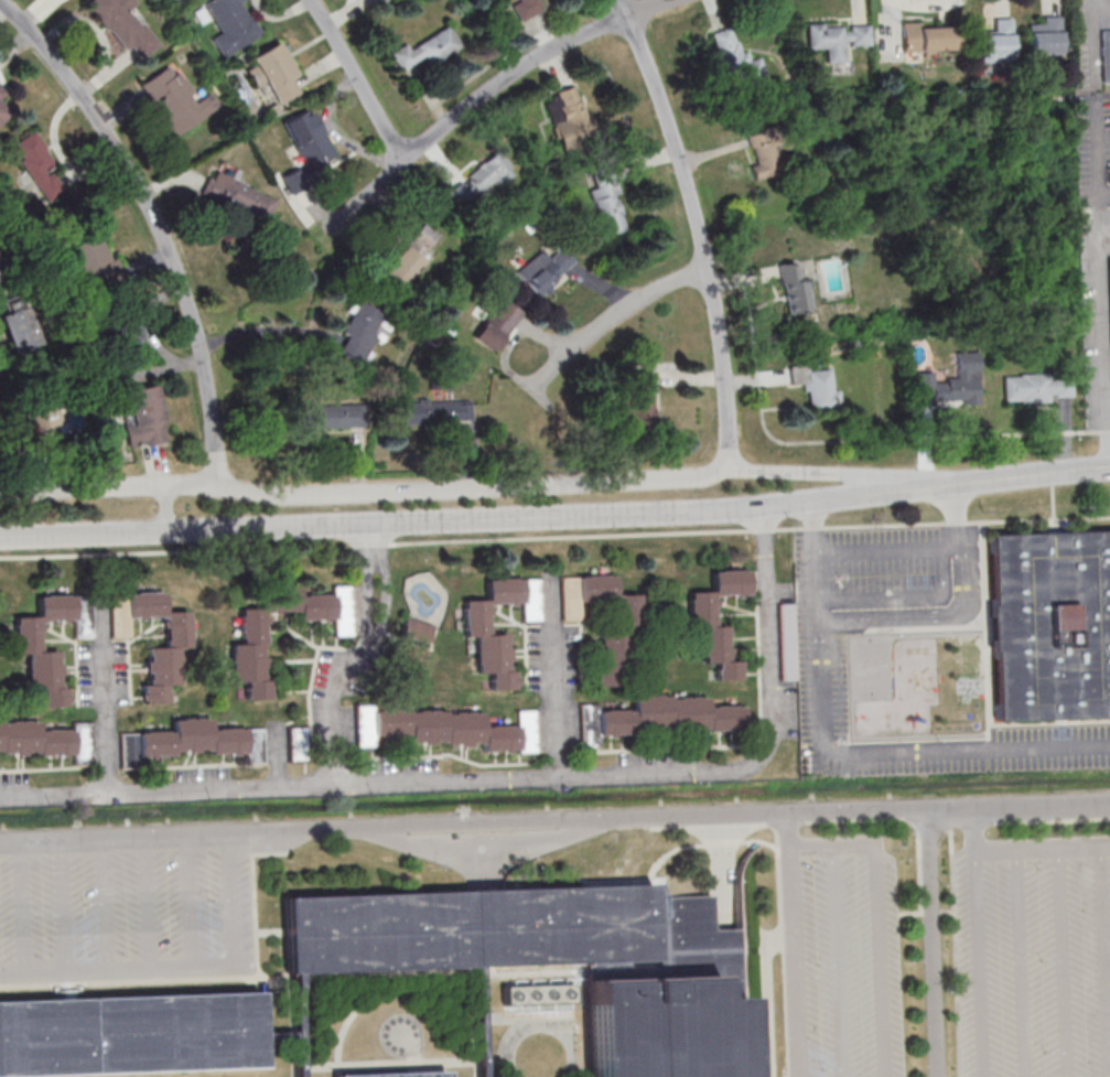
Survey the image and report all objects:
building: (499, 0)
building: (377, 1)
building: (527, 8)
building: (122, 23)
building: (230, 24)
building: (1046, 36)
road: (1092, 36)
building: (928, 37)
building: (837, 39)
building: (998, 43)
building: (424, 51)
building: (1104, 56)
building: (737, 62)
building: (274, 74)
road: (357, 79)
road: (1093, 89)
road: (488, 90)
building: (1, 93)
building: (174, 101)
building: (3, 111)
building: (568, 115)
building: (310, 141)
building: (763, 154)
road: (1098, 154)
building: (39, 165)
building: (482, 181)
building: (238, 196)
building: (608, 205)
road: (155, 224)
road: (699, 229)
building: (411, 255)
building: (95, 259)
building: (546, 269)
building: (1109, 276)
building: (794, 289)
road: (610, 320)
building: (498, 324)
building: (15, 330)
building: (360, 332)
road: (1099, 336)
building: (129, 342)
building: (952, 384)
building: (817, 386)
building: (1037, 387)
building: (637, 397)
road: (1107, 406)
building: (439, 411)
building: (333, 416)
building: (142, 417)
building: (43, 420)
road: (1082, 431)
road: (1087, 471)
road: (850, 475)
road: (110, 488)
road: (474, 491)
road: (165, 507)
road: (532, 516)
road: (1038, 519)
road: (957, 523)
road: (862, 526)
road: (763, 529)
road: (560, 537)
road: (95, 553)
building: (701, 610)
road: (893, 617)
building: (1050, 624)
building: (616, 629)
building: (254, 633)
road: (768, 634)
building: (486, 635)
building: (787, 640)
building: (413, 642)
building: (28, 645)
road: (357, 653)
building: (163, 665)
road: (556, 678)
road: (107, 694)
building: (659, 718)
building: (459, 729)
building: (46, 740)
building: (196, 741)
building: (298, 744)
road: (899, 752)
road: (660, 775)
road: (448, 784)
road: (224, 790)
road: (55, 798)
road: (554, 820)
road: (788, 830)
road: (977, 834)
road: (855, 843)
road: (811, 846)
road: (228, 897)
parking lot: (126, 902)
road: (186, 902)
road: (146, 904)
road: (104, 905)
road: (63, 906)
road: (20, 907)
road: (933, 944)
parking lot: (1033, 955)
parking lot: (841, 956)
building: (559, 959)
road: (839, 960)
road: (881, 960)
road: (794, 961)
road: (980, 969)
road: (115, 970)
building: (130, 1033)
building: (398, 1074)

